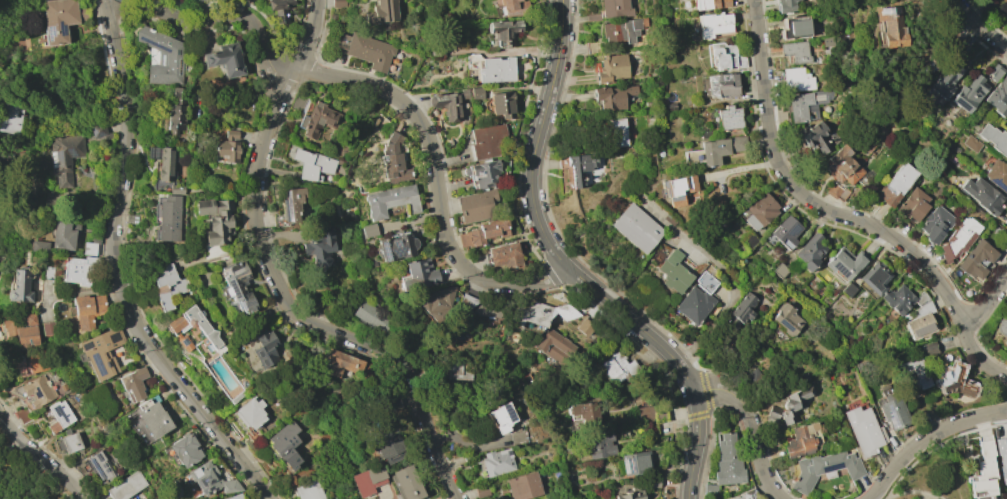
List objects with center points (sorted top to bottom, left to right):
building: (201, 1)
building: (247, 1)
building: (1006, 1)
road: (551, 2)
building: (338, 3)
building: (710, 4)
building: (786, 6)
building: (514, 7)
building: (615, 8)
building: (279, 10)
building: (382, 12)
building: (60, 19)
building: (713, 24)
road: (979, 24)
building: (888, 26)
building: (793, 27)
building: (504, 28)
building: (622, 30)
building: (436, 47)
building: (592, 47)
building: (366, 50)
road: (547, 51)
building: (795, 51)
building: (162, 56)
building: (722, 57)
building: (226, 59)
building: (612, 68)
building: (496, 70)
road: (543, 70)
building: (994, 72)
building: (944, 79)
building: (795, 80)
building: (722, 85)
road: (538, 90)
building: (471, 93)
building: (969, 94)
road: (396, 96)
building: (612, 97)
building: (998, 97)
road: (535, 100)
building: (502, 104)
building: (446, 105)
building: (805, 105)
building: (176, 110)
building: (729, 118)
building: (10, 120)
building: (317, 120)
road: (67, 121)
building: (1006, 125)
building: (97, 130)
building: (615, 132)
road: (516, 133)
building: (815, 137)
building: (994, 138)
building: (486, 141)
building: (971, 143)
building: (227, 147)
building: (720, 149)
building: (65, 157)
building: (393, 161)
road: (10, 162)
building: (165, 164)
building: (312, 164)
building: (841, 166)
building: (580, 168)
road: (737, 170)
building: (482, 173)
building: (997, 175)
road: (519, 177)
building: (895, 184)
building: (176, 189)
building: (676, 189)
road: (519, 190)
building: (836, 191)
park: (6, 194)
building: (982, 195)
road: (12, 201)
building: (391, 201)
building: (291, 203)
building: (913, 204)
building: (475, 206)
road: (522, 206)
building: (759, 211)
road: (523, 214)
road: (837, 215)
road: (25, 218)
building: (168, 218)
building: (131, 219)
building: (215, 220)
road: (525, 222)
building: (936, 224)
building: (636, 228)
building: (368, 230)
building: (785, 231)
building: (483, 233)
building: (63, 235)
road: (533, 236)
building: (959, 239)
building: (747, 240)
road: (538, 245)
building: (40, 246)
building: (319, 246)
building: (396, 246)
building: (88, 248)
building: (810, 251)
building: (504, 255)
building: (977, 259)
building: (845, 262)
road: (568, 270)
building: (779, 270)
building: (76, 271)
building: (46, 272)
building: (673, 272)
road: (117, 273)
building: (417, 274)
road: (550, 274)
building: (875, 277)
road: (276, 281)
building: (705, 282)
building: (166, 285)
building: (237, 285)
building: (19, 287)
building: (848, 290)
road: (579, 291)
building: (902, 299)
building: (433, 304)
building: (464, 304)
road: (594, 304)
building: (694, 304)
road: (988, 304)
building: (87, 310)
building: (741, 310)
building: (486, 311)
building: (536, 312)
building: (371, 316)
building: (786, 318)
building: (28, 319)
building: (920, 321)
building: (584, 327)
building: (1001, 327)
building: (47, 328)
building: (203, 329)
building: (19, 333)
building: (555, 346)
building: (264, 347)
building: (928, 349)
building: (101, 351)
road: (651, 353)
building: (340, 362)
building: (31, 365)
building: (616, 365)
building: (457, 370)
road: (658, 373)
building: (804, 376)
building: (914, 376)
building: (953, 382)
building: (133, 384)
building: (37, 390)
building: (790, 404)
building: (891, 411)
building: (583, 412)
road: (708, 412)
building: (249, 413)
building: (645, 413)
road: (1, 416)
building: (58, 416)
building: (660, 416)
road: (684, 416)
building: (503, 417)
building: (152, 418)
road: (758, 423)
building: (863, 431)
building: (518, 437)
road: (927, 438)
building: (71, 443)
building: (799, 443)
building: (285, 444)
building: (599, 446)
building: (184, 449)
building: (391, 451)
road: (39, 457)
building: (1001, 458)
building: (728, 461)
building: (497, 462)
building: (634, 462)
building: (99, 466)
building: (824, 469)
road: (677, 472)
building: (983, 472)
park: (22, 478)
road: (19, 479)
building: (211, 479)
building: (368, 480)
building: (405, 483)
building: (651, 483)
road: (675, 483)
building: (523, 486)
building: (124, 487)
building: (710, 489)
building: (309, 490)
building: (482, 491)
building: (630, 494)
road: (24, 495)
building: (748, 495)
building: (235, 497)

